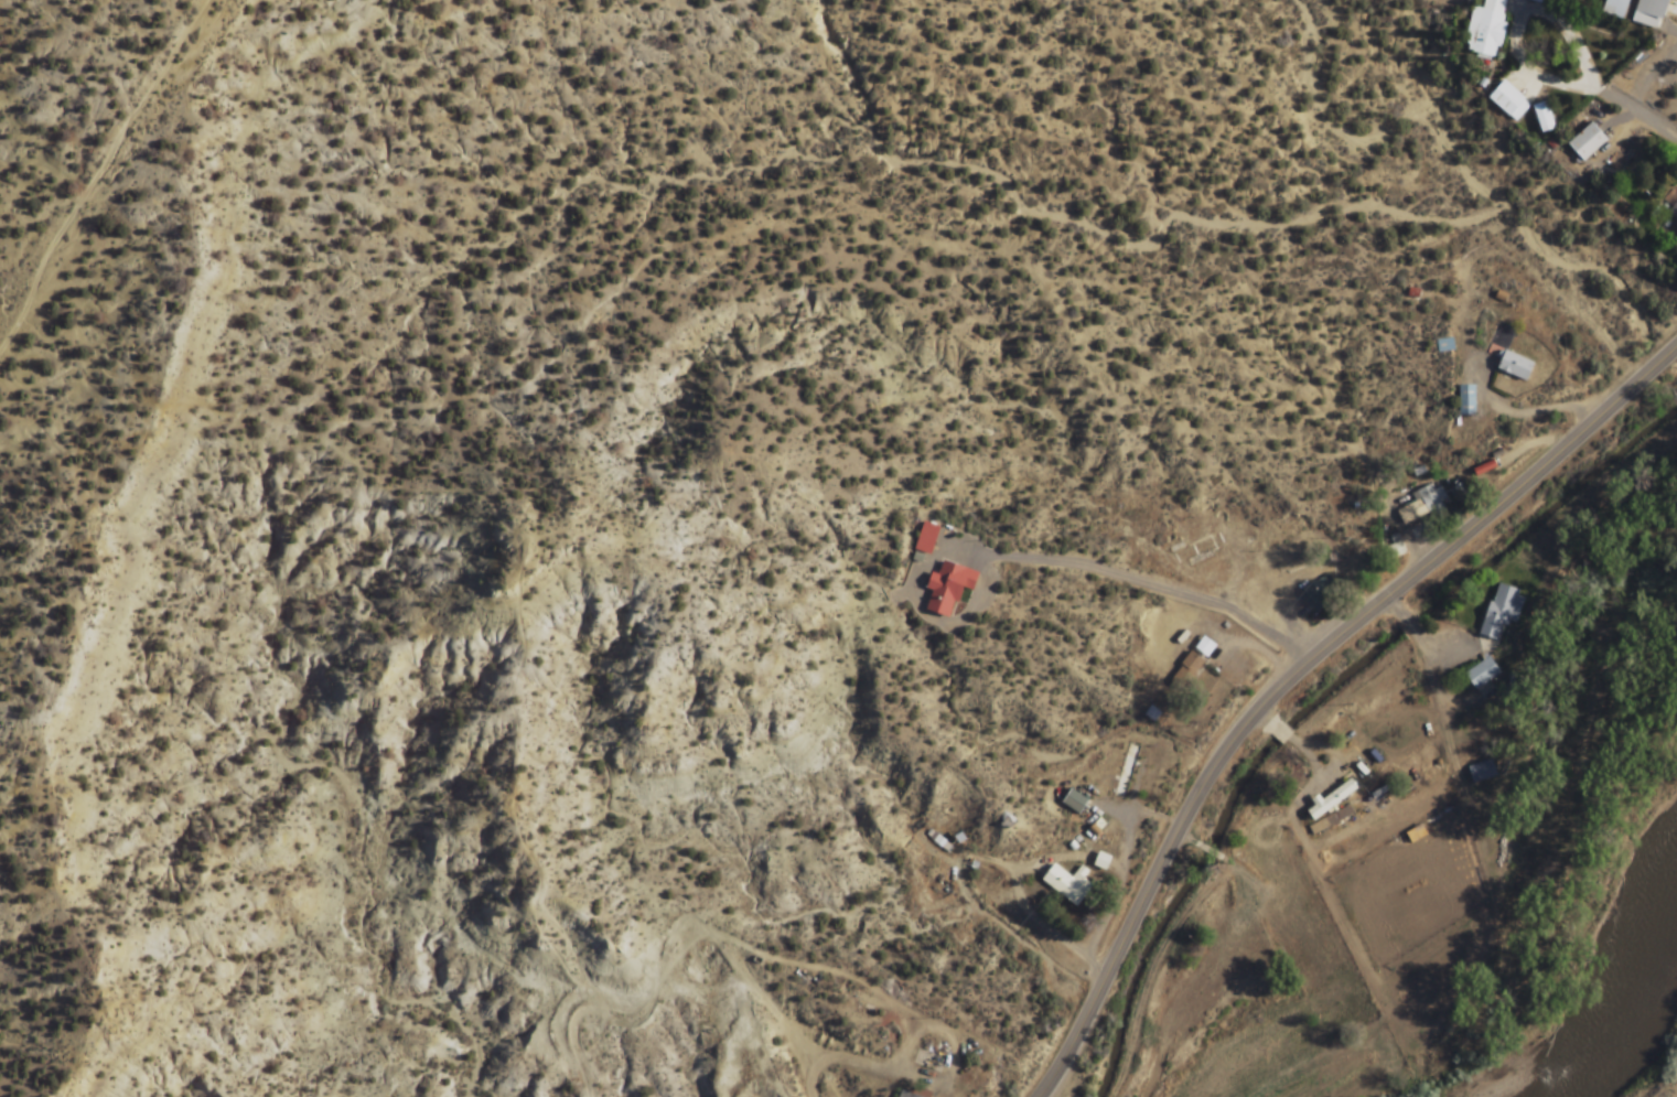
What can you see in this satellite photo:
building: (1615, 8)
building: (1649, 13)
building: (1485, 28)
building: (1508, 103)
building: (1588, 143)
road: (100, 163)
building: (1674, 212)
building: (1508, 354)
building: (1464, 400)
building: (1423, 506)
building: (926, 539)
building: (1394, 550)
building: (947, 589)
building: (1320, 595)
building: (1501, 610)
road: (1419, 637)
building: (1192, 665)
road: (1296, 669)
building: (1482, 673)
road: (1314, 746)
building: (1125, 771)
building: (1481, 771)
building: (1329, 799)
building: (1077, 804)
road: (1419, 816)
building: (1331, 819)
building: (1413, 833)
road: (1184, 839)
road: (1227, 842)
road: (1208, 851)
road: (1226, 860)
building: (1101, 862)
building: (1067, 884)
road: (695, 935)
road: (763, 996)
river: (1628, 1009)
road: (953, 1044)
road: (836, 1057)
building: (914, 1093)

